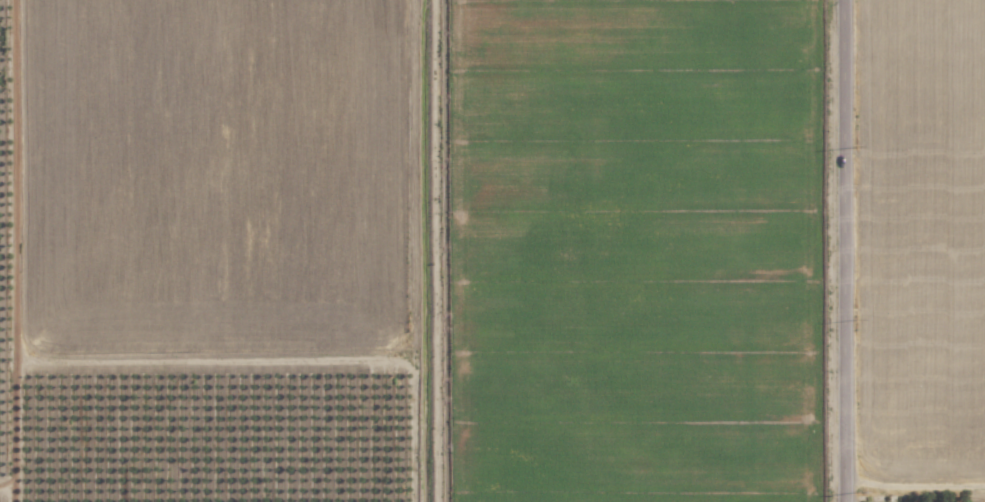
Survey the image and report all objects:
road: (846, 250)

